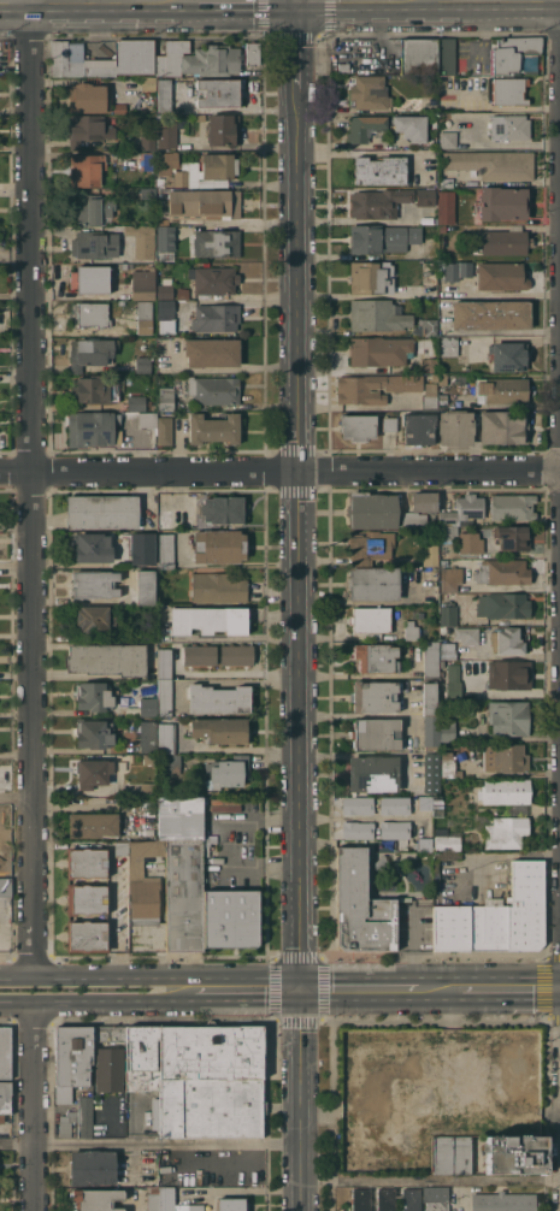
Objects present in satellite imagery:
road: (93, 0)
road: (242, 0)
traffic signals: (299, 0)
road: (299, 43)
building: (252, 53)
building: (514, 55)
building: (418, 57)
building: (198, 59)
building: (450, 59)
building: (105, 60)
building: (343, 67)
building: (148, 84)
building: (217, 91)
building: (508, 91)
building: (369, 93)
building: (164, 94)
building: (89, 96)
building: (200, 117)
building: (411, 126)
building: (509, 126)
building: (365, 128)
building: (88, 129)
building: (223, 129)
building: (166, 134)
building: (148, 135)
building: (448, 140)
building: (147, 160)
building: (167, 163)
building: (493, 164)
building: (218, 165)
building: (86, 169)
building: (379, 170)
building: (183, 176)
building: (160, 182)
building: (148, 193)
building: (426, 196)
building: (378, 202)
building: (502, 203)
building: (204, 205)
building: (446, 207)
building: (93, 209)
road: (258, 223)
building: (442, 229)
building: (165, 237)
building: (382, 238)
building: (142, 240)
building: (503, 242)
building: (216, 243)
building: (95, 244)
building: (456, 270)
building: (429, 273)
building: (501, 276)
building: (371, 277)
building: (90, 278)
building: (213, 279)
building: (143, 283)
building: (164, 290)
building: (182, 294)
building: (166, 309)
building: (92, 314)
building: (377, 314)
building: (490, 314)
building: (145, 317)
building: (216, 318)
building: (429, 326)
road: (505, 336)
building: (448, 345)
building: (379, 350)
building: (90, 352)
building: (212, 352)
building: (508, 356)
building: (142, 364)
building: (429, 364)
building: (434, 377)
building: (443, 379)
building: (375, 386)
building: (90, 388)
building: (213, 390)
building: (502, 390)
building: (429, 396)
building: (165, 398)
building: (136, 402)
building: (151, 403)
building: (147, 419)
building: (389, 424)
building: (358, 426)
building: (503, 426)
building: (90, 427)
building: (456, 427)
building: (214, 429)
building: (418, 429)
building: (164, 430)
road: (279, 471)
road: (33, 488)
building: (424, 502)
building: (470, 506)
building: (512, 507)
building: (223, 509)
building: (372, 510)
building: (102, 512)
building: (165, 519)
building: (413, 520)
building: (448, 525)
building: (512, 537)
road: (300, 538)
building: (470, 542)
building: (219, 545)
building: (93, 547)
building: (367, 547)
building: (148, 549)
building: (166, 550)
building: (430, 555)
building: (443, 562)
road: (240, 565)
building: (502, 571)
building: (449, 578)
building: (373, 583)
building: (94, 584)
building: (146, 586)
building: (217, 587)
building: (442, 596)
building: (502, 604)
building: (448, 614)
building: (370, 619)
building: (92, 620)
building: (208, 621)
building: (411, 630)
building: (148, 633)
building: (466, 634)
building: (506, 640)
building: (447, 650)
building: (200, 655)
building: (236, 655)
building: (376, 657)
building: (107, 658)
building: (431, 658)
building: (165, 663)
road: (225, 672)
road: (73, 674)
building: (508, 674)
building: (453, 680)
building: (375, 696)
building: (94, 697)
building: (165, 697)
building: (218, 698)
building: (429, 698)
building: (148, 707)
building: (508, 717)
building: (219, 729)
building: (438, 729)
building: (93, 733)
building: (376, 734)
building: (148, 737)
building: (166, 738)
building: (505, 757)
building: (148, 758)
building: (171, 763)
building: (448, 764)
building: (93, 772)
building: (228, 772)
building: (373, 773)
building: (431, 773)
building: (146, 787)
building: (506, 791)
road: (17, 797)
building: (425, 803)
building: (358, 805)
building: (394, 805)
building: (437, 805)
road: (360, 817)
building: (181, 819)
road: (258, 820)
building: (93, 825)
building: (358, 829)
building: (394, 829)
building: (506, 832)
building: (446, 840)
building: (424, 844)
building: (122, 847)
building: (2, 855)
building: (381, 861)
building: (86, 862)
road: (260, 868)
building: (435, 876)
building: (143, 879)
building: (5, 887)
building: (184, 896)
building: (86, 898)
building: (525, 905)
building: (361, 906)
building: (229, 917)
building: (489, 925)
building: (452, 927)
building: (86, 935)
road: (106, 975)
road: (241, 975)
road: (17, 976)
traffic signals: (303, 990)
road: (360, 990)
road: (440, 990)
road: (511, 990)
road: (248, 997)
road: (96, 1000)
building: (108, 1036)
building: (526, 1040)
building: (5, 1052)
building: (142, 1058)
building: (71, 1059)
building: (499, 1064)
building: (108, 1069)
building: (468, 1071)
building: (211, 1081)
building: (505, 1089)
building: (526, 1089)
building: (5, 1099)
road: (303, 1100)
road: (36, 1105)
building: (89, 1113)
building: (66, 1123)
building: (454, 1126)
building: (501, 1128)
building: (519, 1128)
road: (151, 1142)
building: (514, 1153)
building: (452, 1154)
building: (93, 1166)
building: (149, 1175)
road: (431, 1181)
building: (436, 1198)
building: (95, 1199)
building: (160, 1199)
building: (360, 1199)
building: (387, 1199)
building: (411, 1199)
building: (503, 1201)
building: (231, 1204)
building: (196, 1207)

